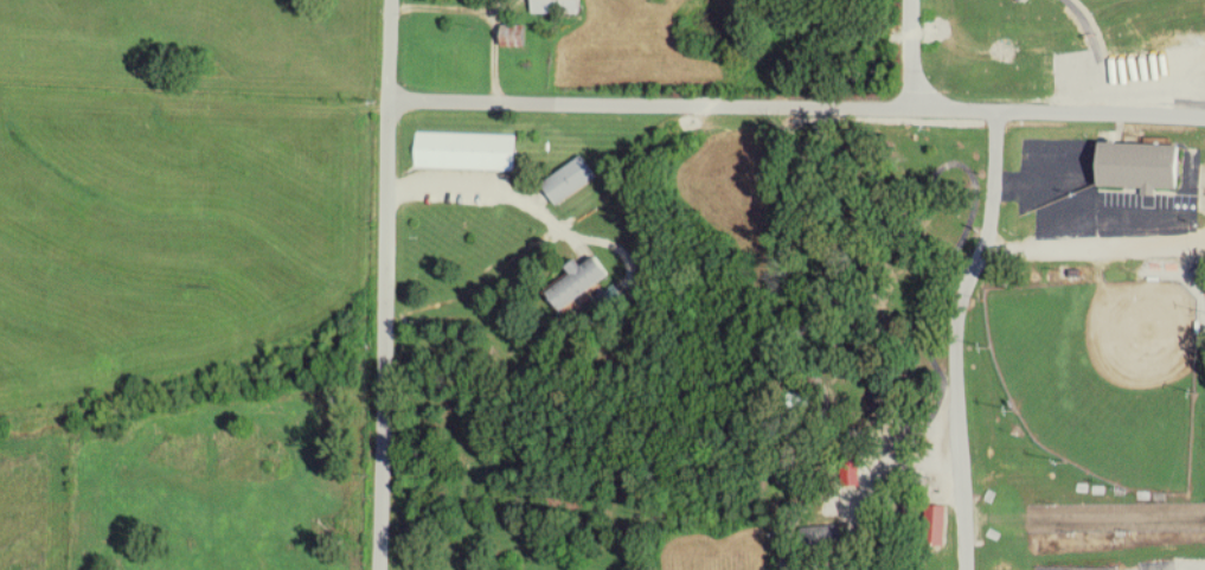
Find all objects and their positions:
building: (1021, 0)
building: (557, 6)
building: (514, 36)
road: (911, 53)
road: (652, 104)
road: (1059, 111)
building: (467, 150)
building: (1140, 165)
building: (570, 179)
road: (528, 201)
crop: (178, 230)
building: (577, 281)
road: (385, 284)
road: (956, 337)
park: (998, 345)
park: (1103, 374)
building: (936, 525)
park: (1158, 564)
park: (1073, 568)

